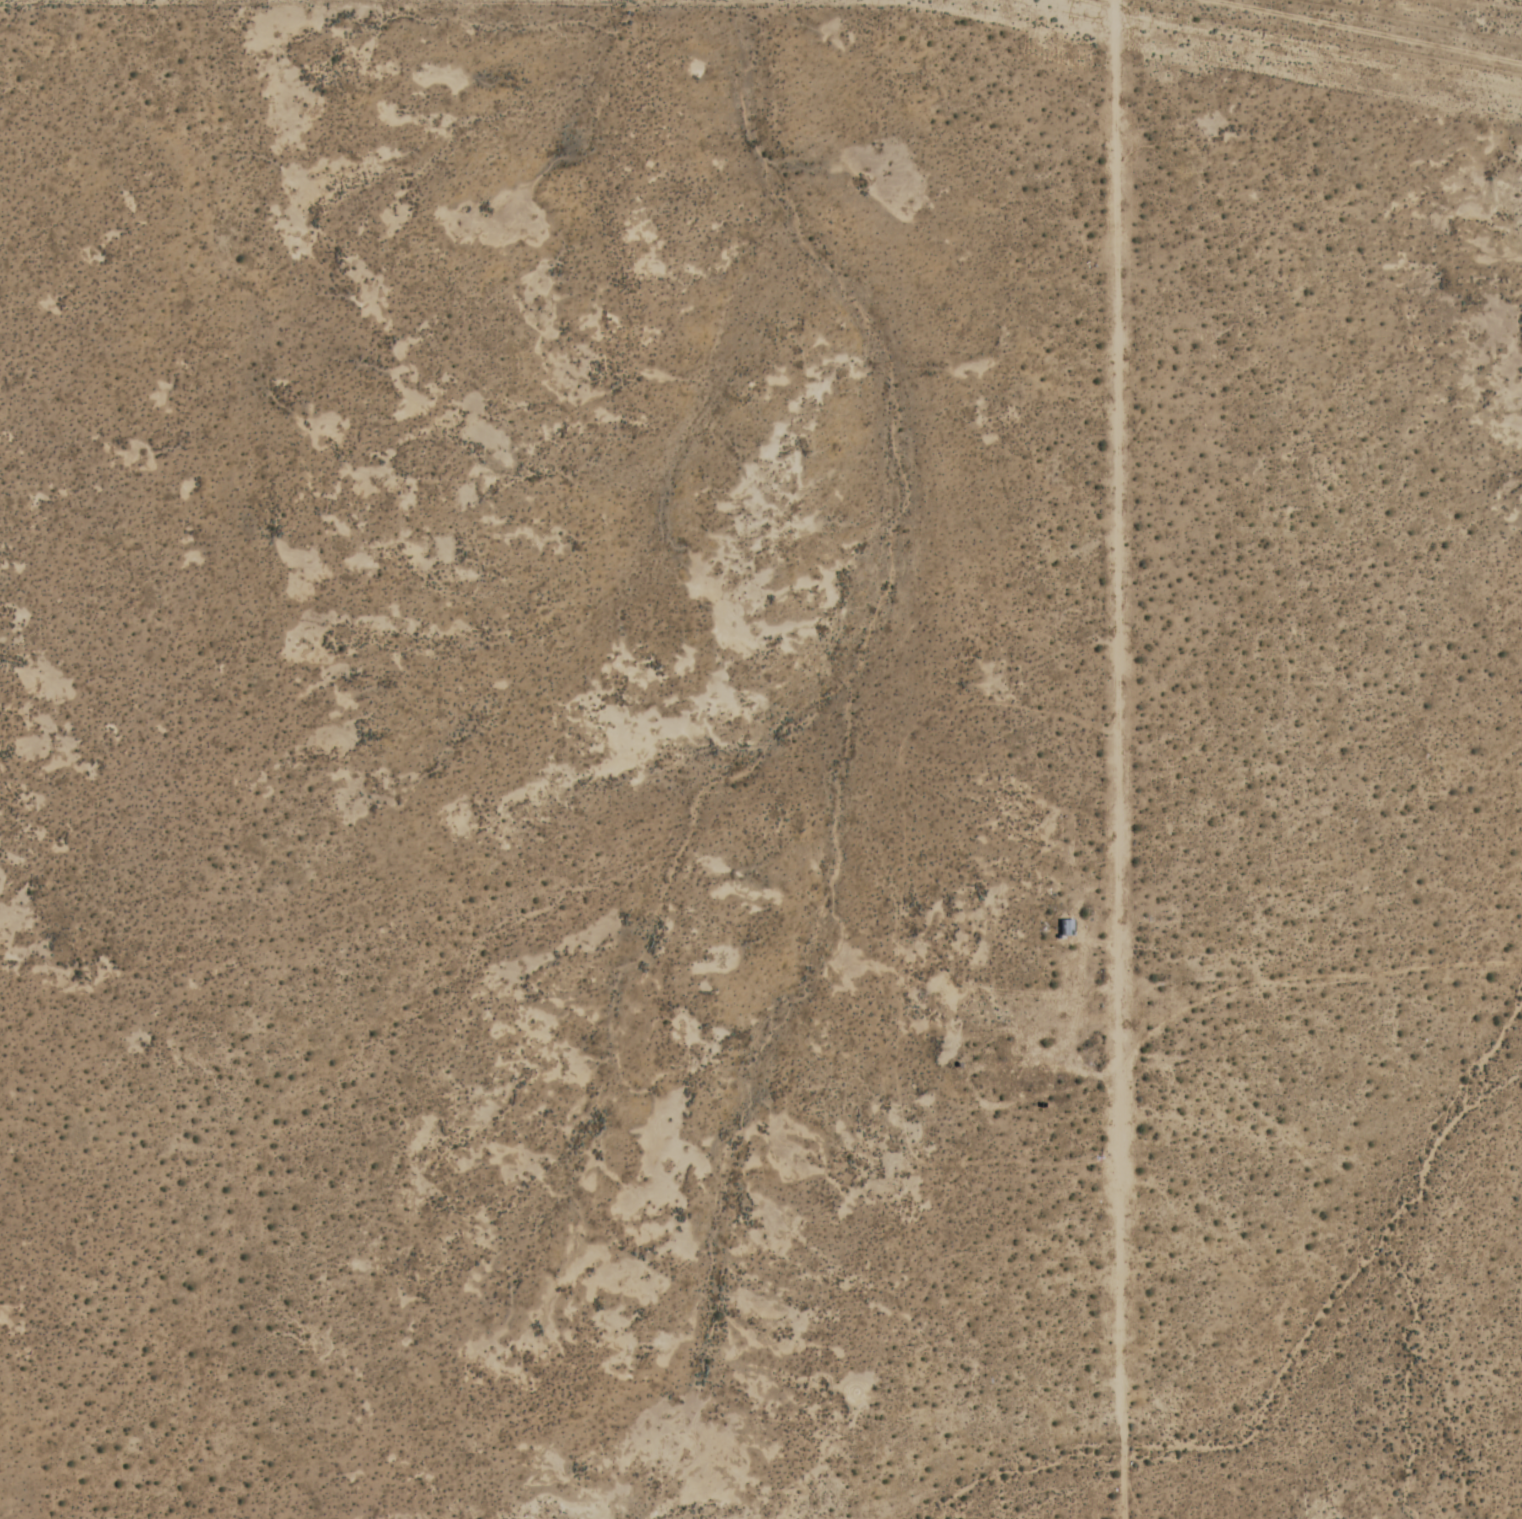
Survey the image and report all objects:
road: (1105, 245)

